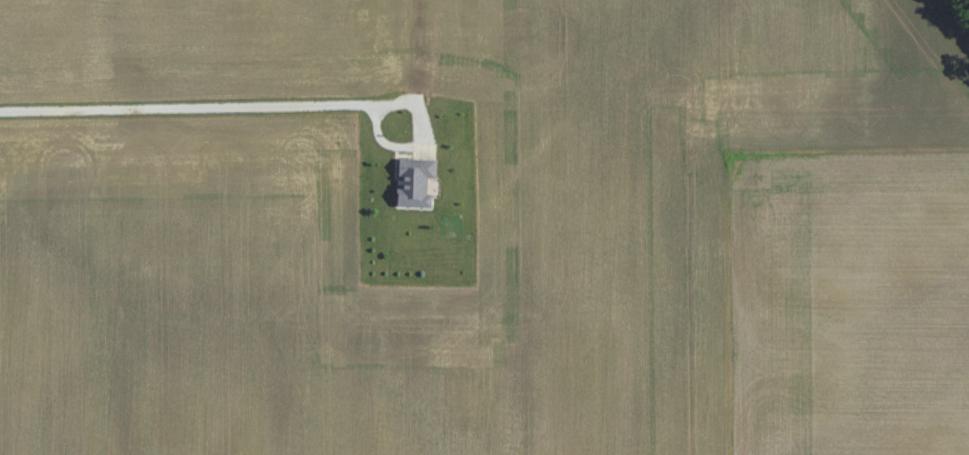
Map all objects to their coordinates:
building: (415, 180)

